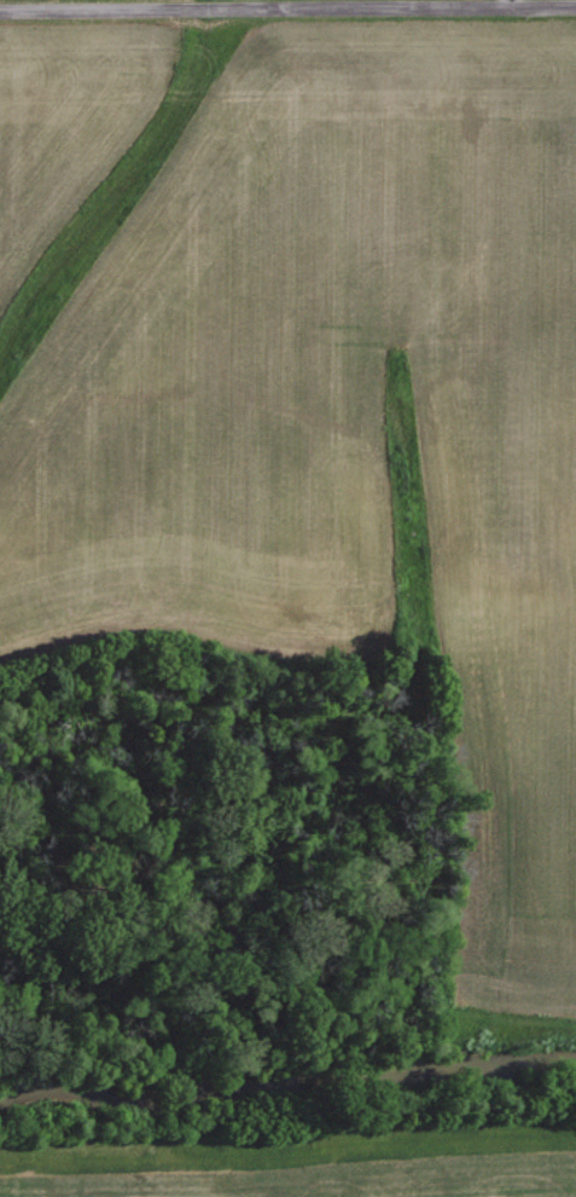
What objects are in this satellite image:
road: (287, 4)
river: (287, 1060)

